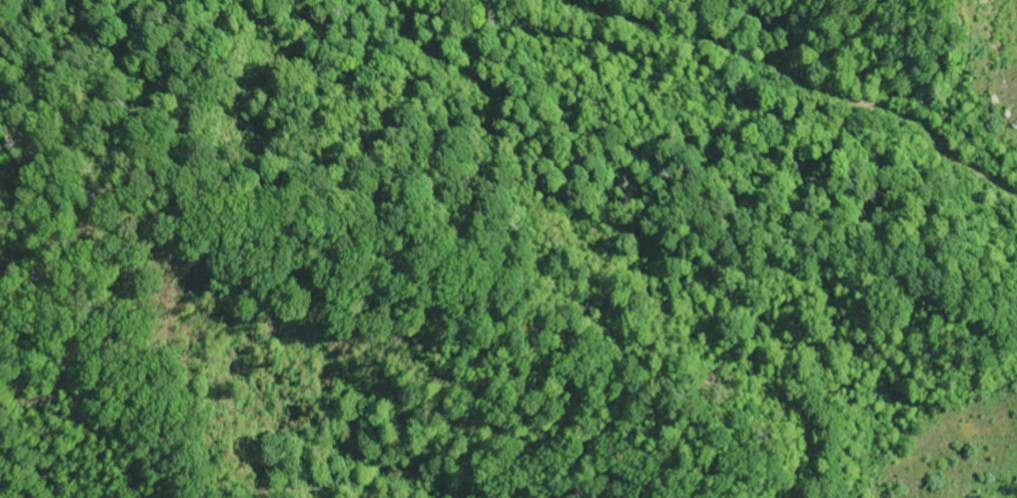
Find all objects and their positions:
quarry: (992, 478)

